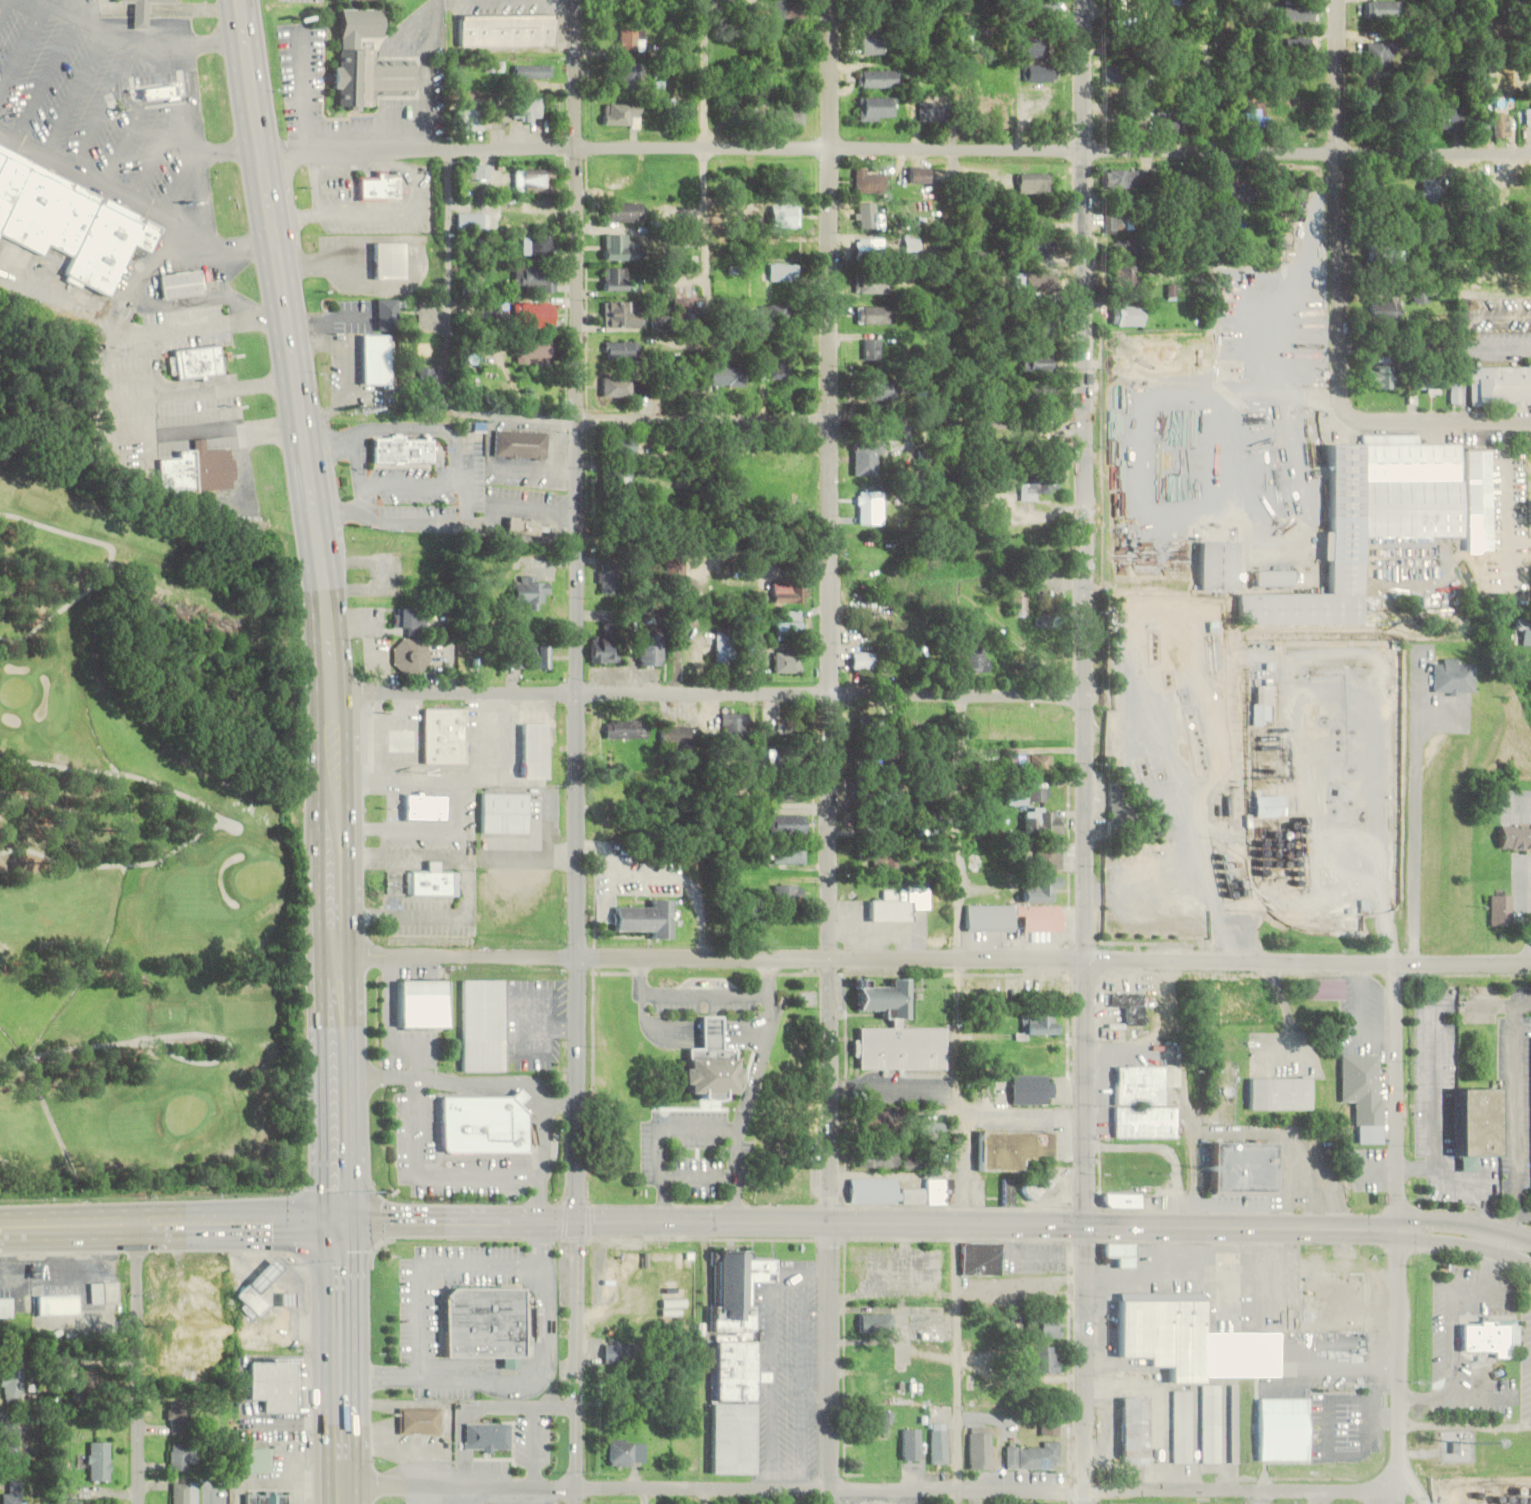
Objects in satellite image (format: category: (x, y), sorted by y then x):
road: (5, 0)
building: (1171, 1)
road: (3, 7)
building: (1041, 7)
building: (787, 9)
building: (1383, 9)
building: (1298, 11)
building: (142, 12)
building: (508, 30)
building: (632, 39)
building: (966, 40)
road: (143, 43)
building: (874, 44)
building: (1297, 45)
building: (1036, 46)
road: (25, 48)
building: (1378, 54)
building: (369, 60)
building: (1039, 72)
building: (530, 73)
building: (1115, 74)
building: (632, 75)
road: (1209, 75)
road: (251, 77)
building: (881, 79)
building: (1170, 79)
road: (50, 80)
road: (78, 94)
parking lot: (101, 102)
road: (111, 107)
building: (527, 108)
building: (876, 108)
building: (930, 111)
building: (1261, 113)
road: (142, 114)
building: (622, 115)
building: (1528, 115)
building: (790, 117)
building: (1449, 117)
building: (468, 118)
building: (1171, 124)
building: (1482, 127)
building: (1502, 127)
road: (164, 147)
road: (897, 150)
road: (197, 151)
road: (231, 155)
road: (400, 165)
building: (477, 172)
building: (919, 175)
building: (1150, 177)
building: (789, 178)
building: (1121, 178)
building: (534, 179)
building: (870, 181)
road: (103, 182)
road: (320, 182)
building: (1033, 182)
building: (382, 183)
road: (183, 185)
building: (1240, 193)
building: (1484, 195)
building: (1431, 197)
road: (1337, 206)
road: (705, 210)
building: (622, 211)
road: (389, 213)
building: (785, 214)
building: (867, 215)
building: (69, 218)
road: (299, 219)
building: (1120, 222)
building: (537, 245)
building: (618, 247)
building: (870, 247)
building: (912, 247)
building: (1126, 247)
building: (1044, 248)
building: (1391, 252)
building: (395, 258)
road: (216, 267)
building: (784, 272)
building: (1125, 277)
building: (534, 279)
building: (615, 279)
building: (183, 282)
road: (449, 282)
building: (873, 285)
building: (1044, 285)
building: (1420, 295)
building: (684, 306)
building: (1386, 309)
building: (388, 314)
building: (535, 314)
building: (874, 314)
building: (619, 315)
building: (776, 315)
building: (1127, 315)
building: (1530, 315)
road: (209, 326)
building: (1039, 326)
building: (872, 347)
building: (621, 349)
building: (532, 350)
building: (378, 356)
building: (200, 359)
building: (1038, 363)
building: (777, 368)
building: (729, 376)
building: (1382, 376)
building: (1431, 382)
building: (1500, 385)
building: (616, 387)
building: (877, 391)
building: (1041, 391)
road: (498, 414)
road: (831, 420)
road: (1436, 425)
building: (522, 441)
building: (618, 446)
building: (404, 447)
building: (866, 459)
building: (199, 467)
road: (578, 477)
road: (1084, 478)
building: (618, 481)
building: (1036, 483)
building: (869, 508)
building: (1370, 521)
building: (524, 523)
building: (1219, 567)
building: (676, 573)
building: (609, 578)
building: (1274, 579)
building: (528, 592)
building: (790, 592)
building: (1018, 606)
building: (411, 618)
building: (790, 626)
building: (1525, 632)
building: (724, 648)
building: (605, 652)
building: (412, 653)
building: (651, 653)
building: (530, 655)
building: (977, 658)
building: (863, 659)
building: (467, 661)
building: (787, 662)
building: (1453, 677)
road: (333, 683)
road: (709, 692)
building: (734, 723)
building: (875, 728)
building: (627, 729)
building: (792, 729)
building: (446, 733)
building: (677, 735)
building: (407, 737)
building: (536, 750)
road: (831, 752)
building: (873, 758)
building: (786, 760)
building: (1035, 763)
building: (791, 792)
building: (1039, 793)
building: (880, 794)
building: (1013, 794)
building: (427, 804)
building: (1116, 804)
building: (1269, 806)
building: (504, 812)
park: (134, 820)
building: (1044, 822)
building: (790, 824)
building: (1515, 837)
building: (789, 855)
building: (881, 857)
building: (1048, 859)
building: (422, 882)
building: (1040, 888)
building: (1234, 888)
building: (789, 894)
building: (894, 907)
building: (1500, 909)
building: (989, 917)
building: (1040, 917)
building: (640, 920)
road: (583, 955)
road: (957, 956)
road: (1308, 960)
road: (959, 961)
building: (1323, 989)
road: (707, 994)
building: (425, 1001)
building: (1129, 1006)
road: (1498, 1007)
parking lot: (707, 1008)
building: (485, 1023)
building: (1039, 1024)
road: (673, 1025)
building: (897, 1033)
building: (1039, 1057)
building: (711, 1062)
road: (1438, 1085)
road: (750, 1086)
building: (1032, 1089)
building: (1279, 1093)
building: (1363, 1094)
building: (1144, 1101)
building: (486, 1121)
building: (878, 1121)
building: (1478, 1122)
road: (1519, 1122)
building: (932, 1131)
road: (662, 1138)
building: (1012, 1148)
parking lot: (698, 1155)
building: (879, 1158)
building: (911, 1165)
building: (1241, 1167)
road: (700, 1179)
road: (1466, 1182)
building: (1039, 1186)
building: (899, 1192)
building: (1008, 1192)
building: (1120, 1200)
traffic signals: (341, 1217)
road: (170, 1218)
traffic signals: (579, 1220)
road: (870, 1221)
traffic signals: (1087, 1226)
road: (1466, 1226)
road: (578, 1229)
traffic signals: (1400, 1230)
road: (1087, 1231)
road: (1400, 1232)
road: (1465, 1246)
building: (1121, 1253)
building: (981, 1258)
road: (1492, 1262)
building: (257, 1289)
building: (104, 1293)
building: (57, 1305)
building: (5, 1308)
building: (483, 1321)
building: (876, 1323)
building: (1048, 1326)
building: (1162, 1332)
building: (1490, 1336)
road: (1452, 1343)
road: (343, 1349)
building: (616, 1353)
building: (1238, 1354)
building: (735, 1359)
building: (1045, 1359)
road: (137, 1361)
road: (706, 1362)
road: (956, 1364)
building: (11, 1385)
building: (87, 1385)
building: (274, 1385)
building: (177, 1413)
building: (420, 1421)
building: (882, 1421)
building: (1211, 1423)
building: (1233, 1423)
building: (1181, 1426)
road: (1464, 1426)
building: (1051, 1427)
building: (1282, 1429)
building: (1134, 1430)
building: (488, 1437)
building: (13, 1441)
building: (938, 1443)
building: (912, 1444)
building: (626, 1452)
building: (1028, 1453)
building: (979, 1454)
building: (181, 1458)
building: (98, 1460)
building: (256, 1460)
road: (1414, 1484)
road: (715, 1485)
road: (1123, 1490)
road: (346, 1492)
road: (1280, 1492)
building: (12, 1493)
building: (183, 1493)
road: (414, 1493)
road: (446, 1493)
road: (484, 1494)
building: (268, 1497)
road: (1263, 1498)
road: (1320, 1498)

